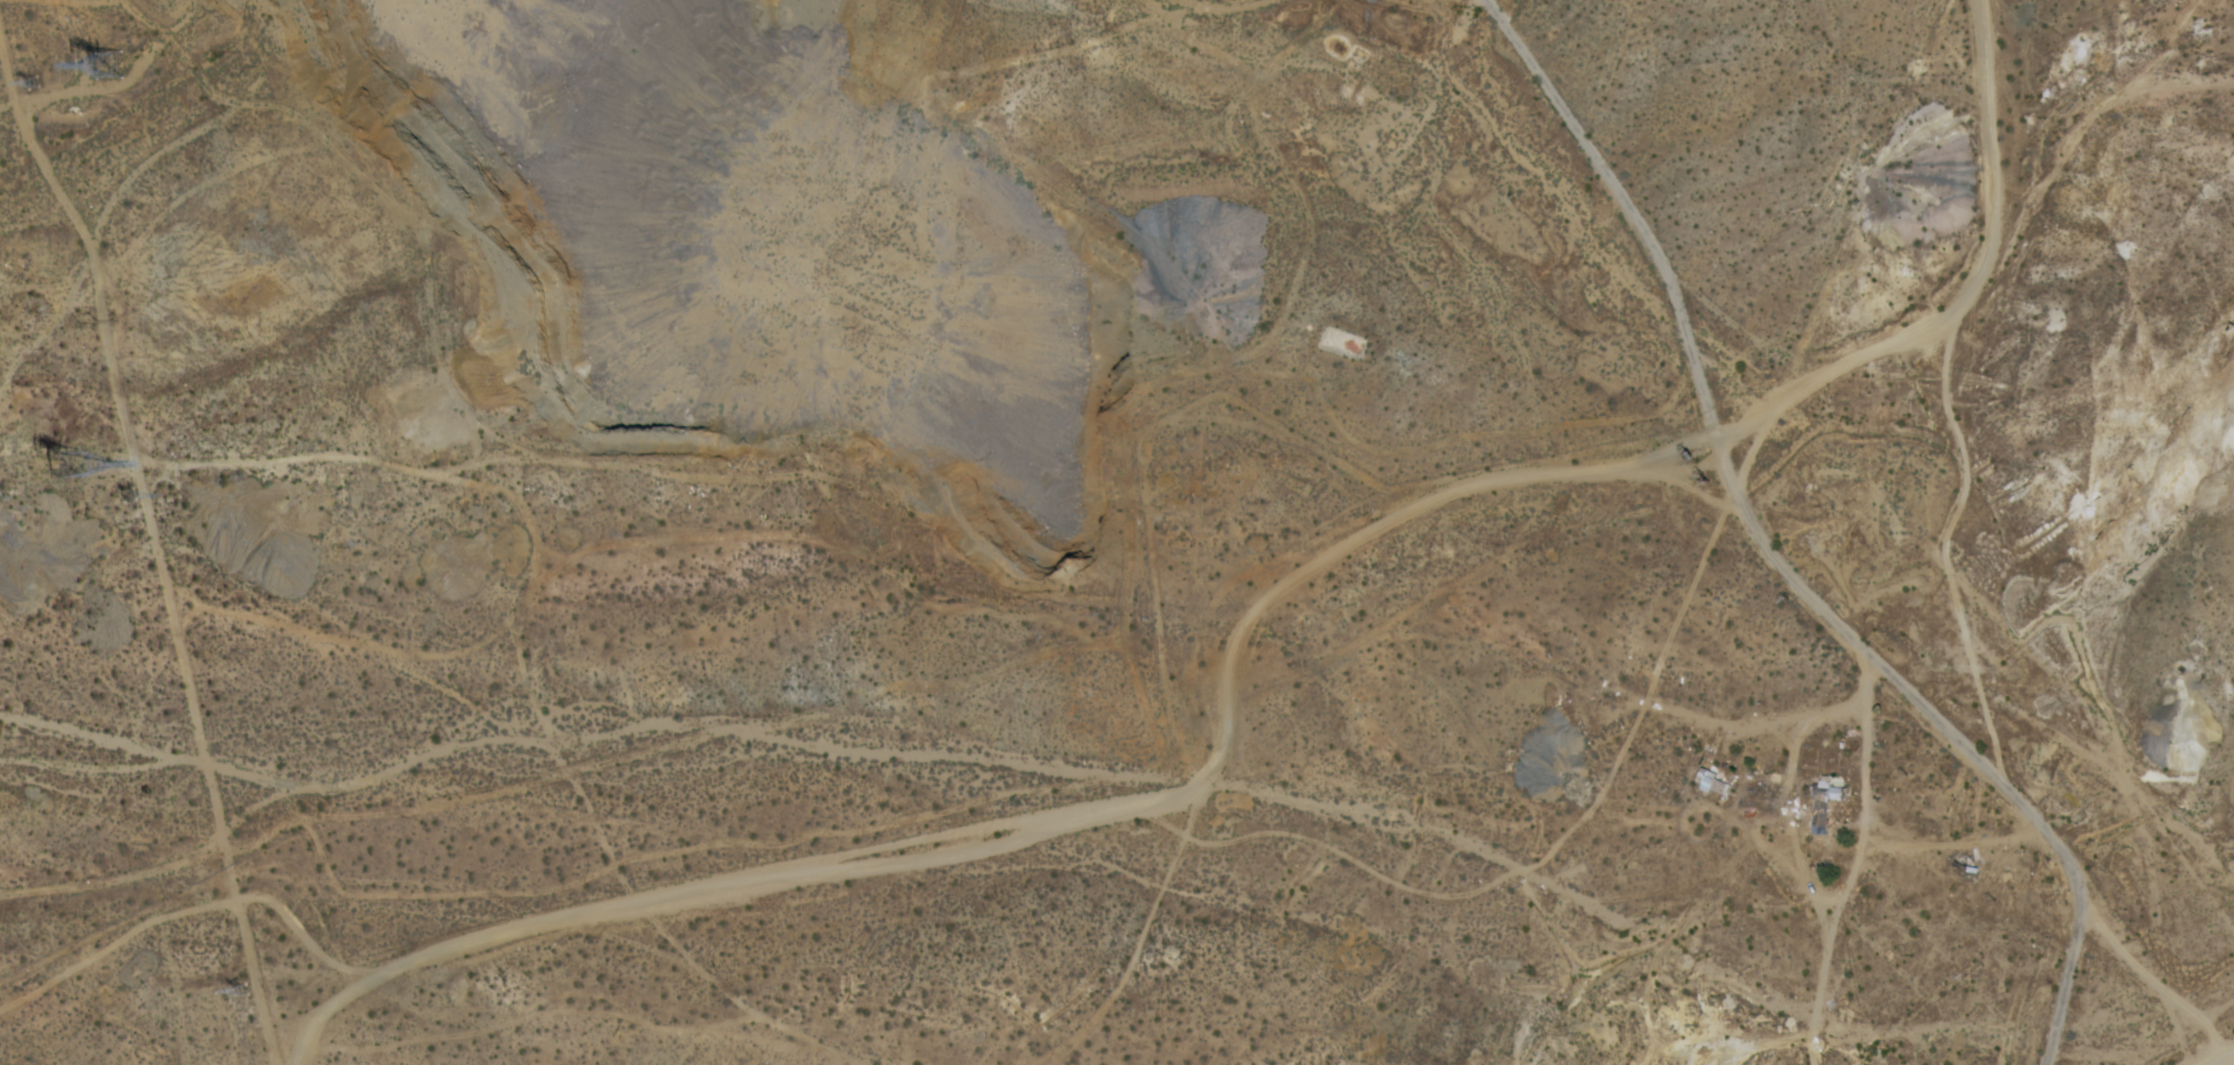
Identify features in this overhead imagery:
power tower: (113, 67)
power tower: (35, 86)
road: (1969, 291)
crop: (1902, 307)
power tower: (76, 464)
power tower: (129, 500)
road: (153, 547)
road: (1945, 733)
building: (1817, 805)
road: (1067, 829)
road: (191, 913)
road: (2142, 973)
power tower: (237, 994)
crop: (2084, 1043)
road: (2225, 1060)
road: (2214, 1064)
road: (2218, 1064)

